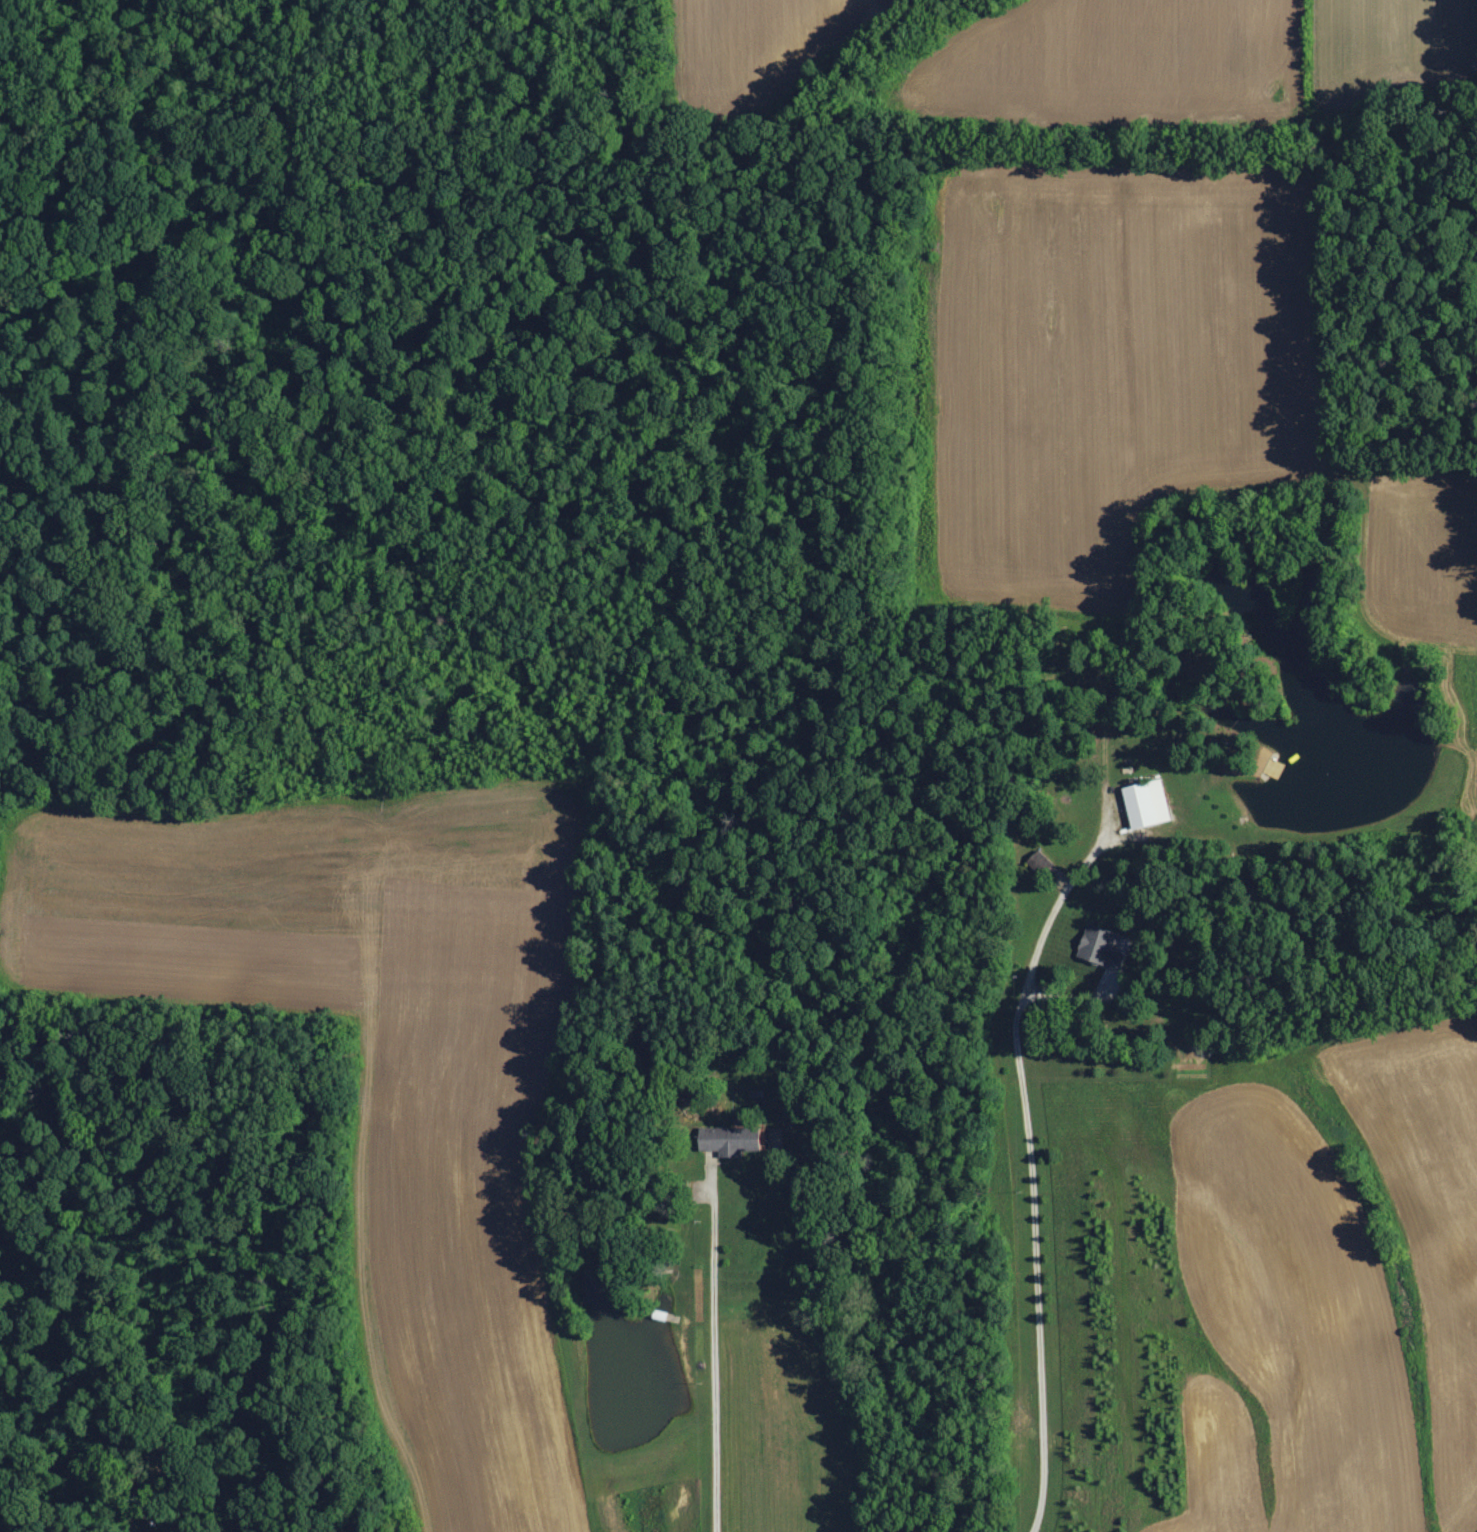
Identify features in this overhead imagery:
building: (1148, 804)
building: (1041, 863)
building: (1102, 948)
building: (731, 1140)

